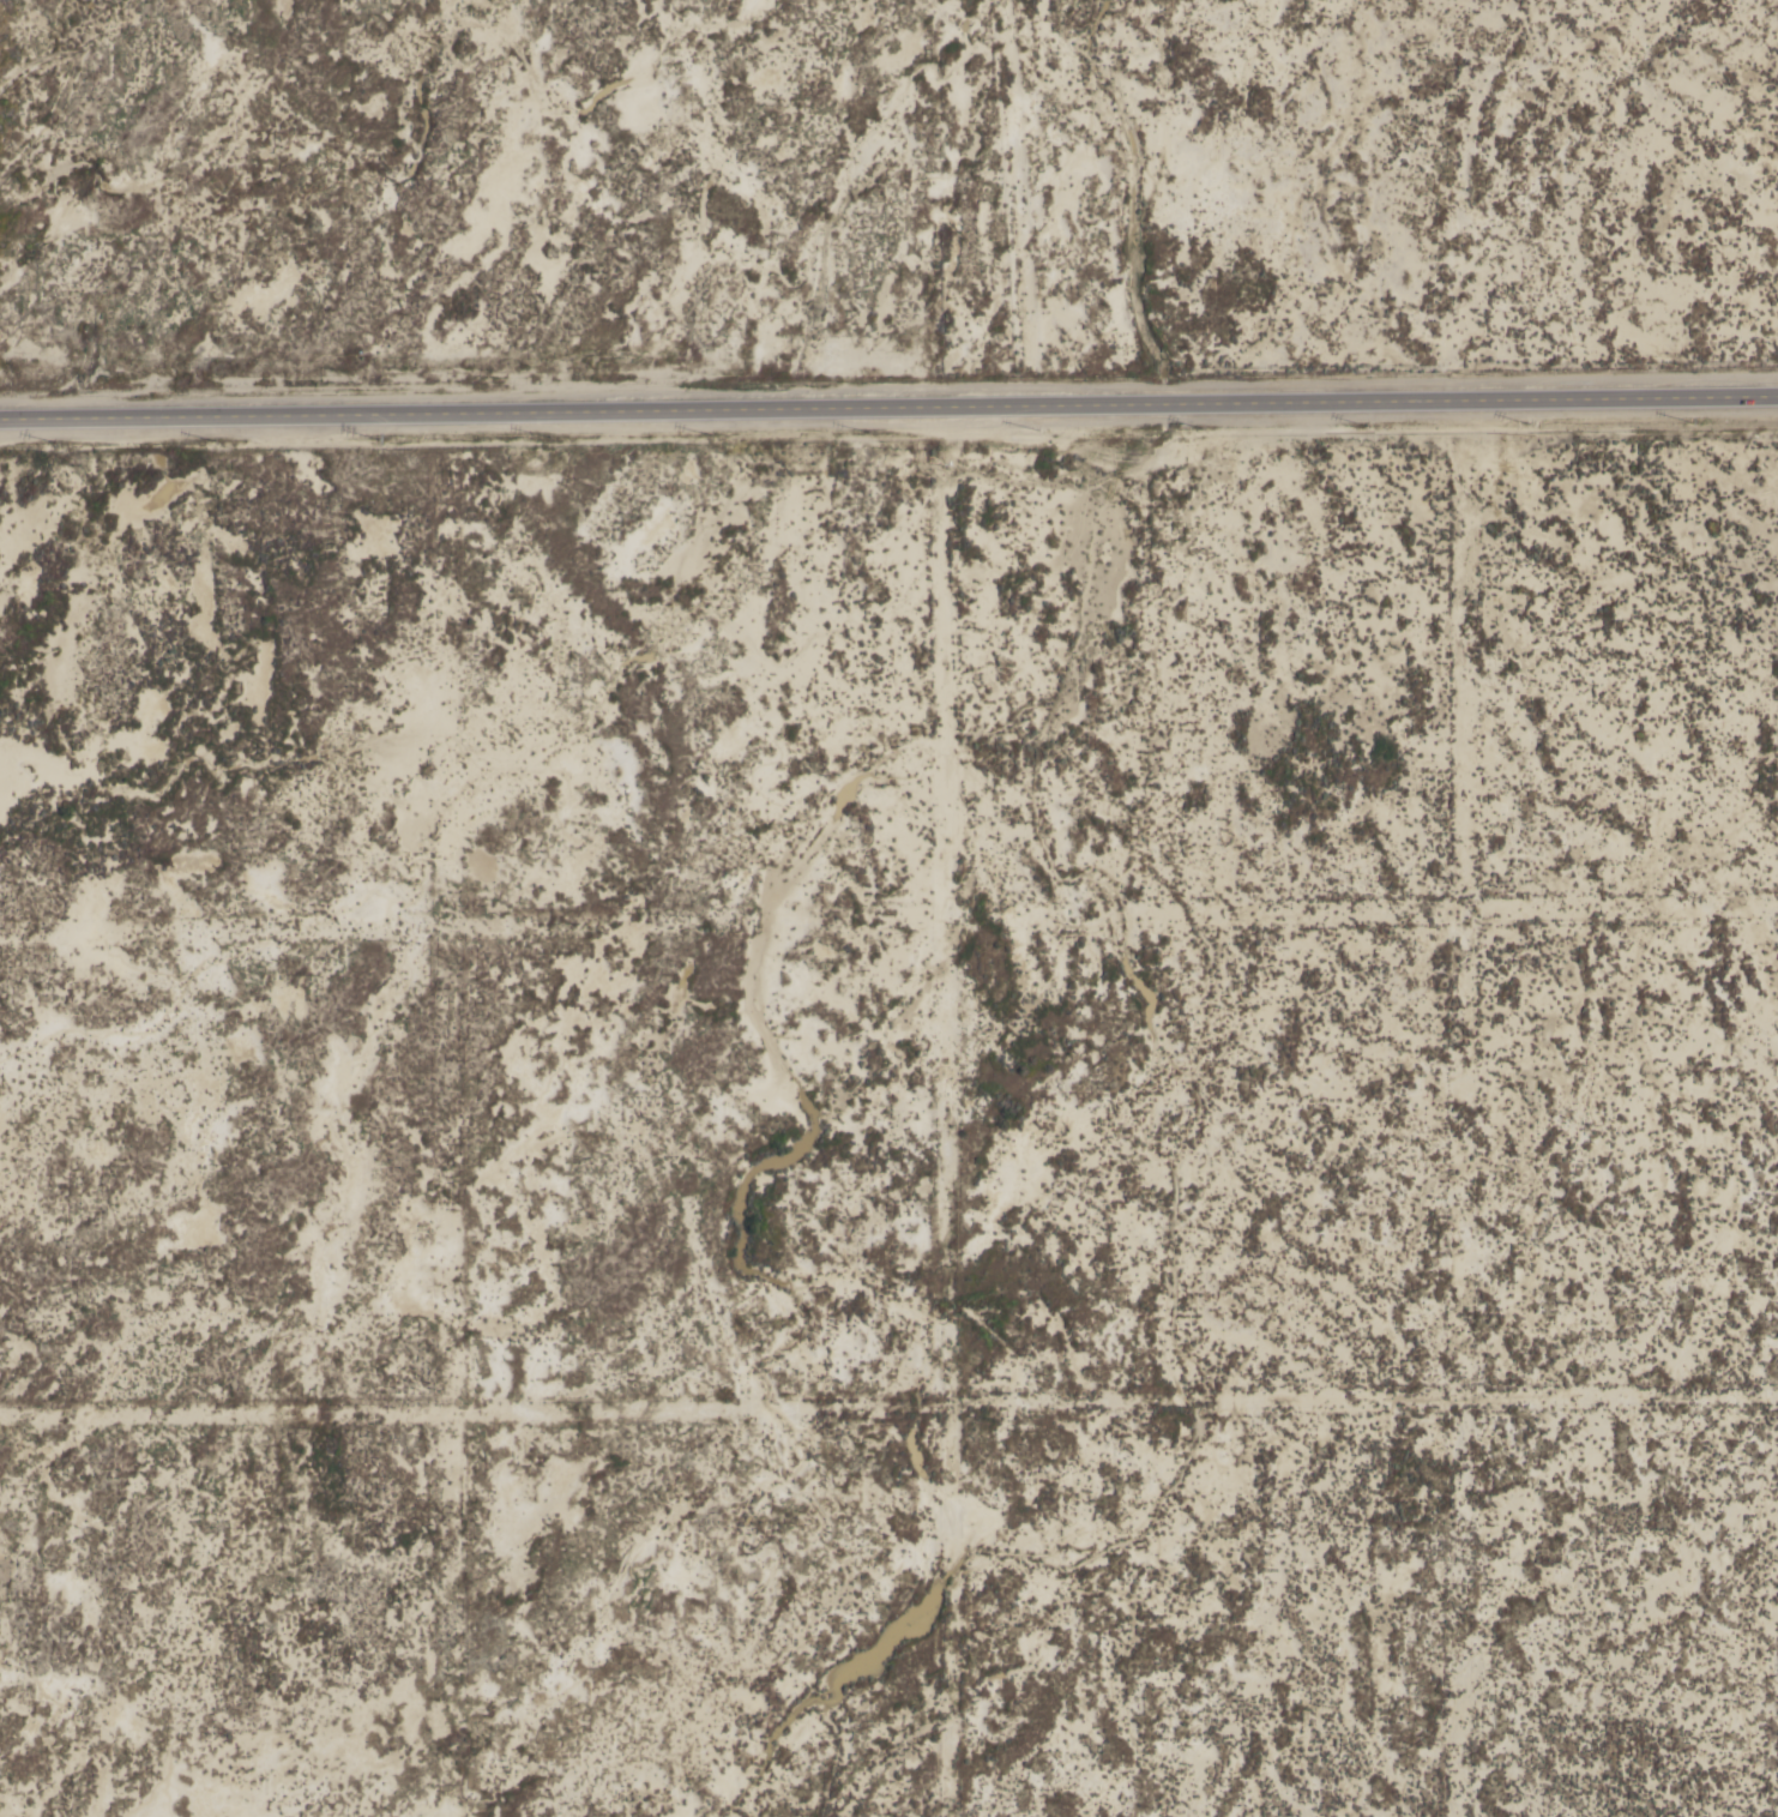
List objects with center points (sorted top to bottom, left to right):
road: (888, 410)

